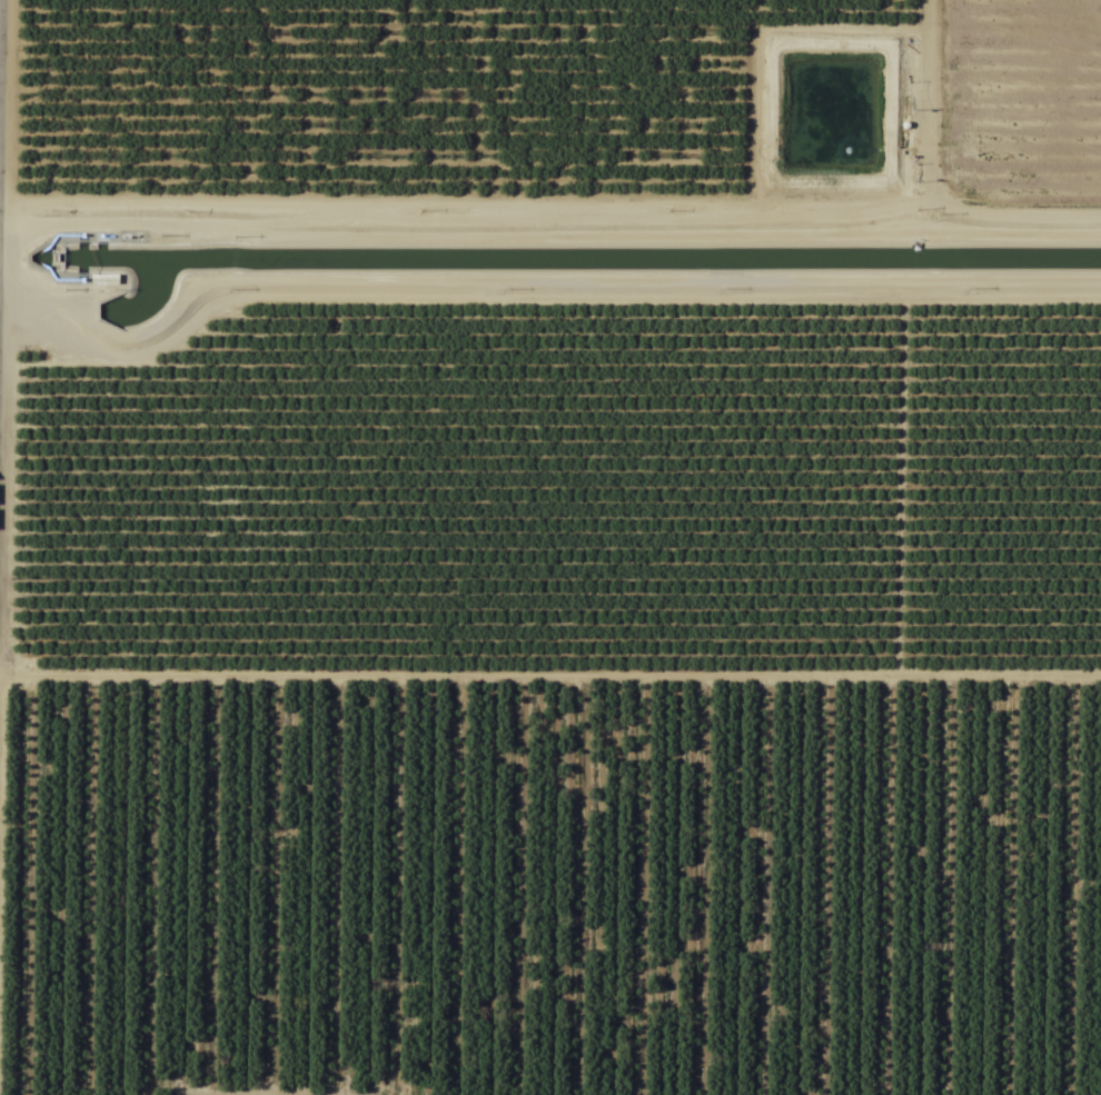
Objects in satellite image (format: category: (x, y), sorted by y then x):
building: (111, 280)
crop: (550, 547)

